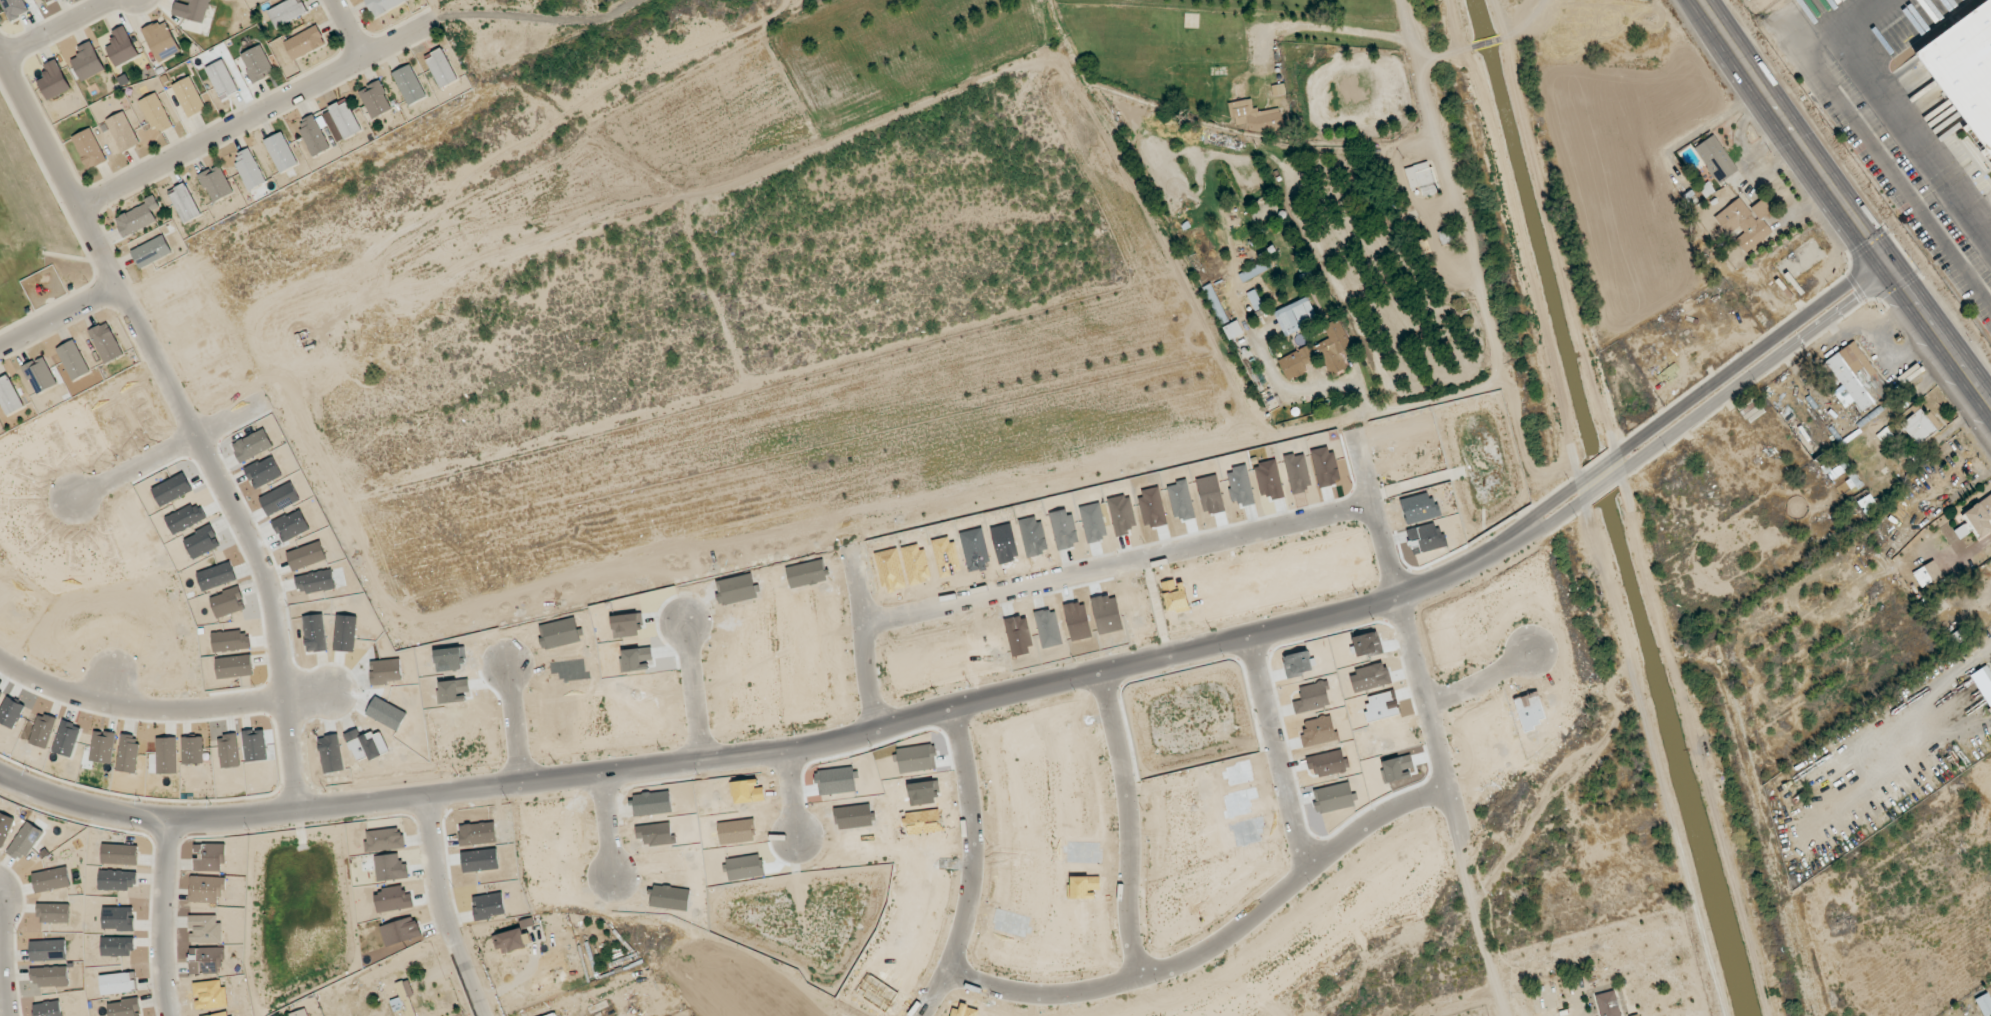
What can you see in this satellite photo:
building: (47, 0)
building: (383, 5)
building: (14, 8)
building: (192, 9)
building: (287, 12)
road: (1524, 22)
road: (345, 28)
road: (58, 30)
building: (161, 41)
building: (304, 43)
road: (1485, 43)
building: (121, 47)
road: (1444, 53)
building: (87, 62)
building: (257, 63)
building: (441, 69)
building: (1965, 69)
building: (221, 79)
building: (53, 81)
building: (409, 84)
building: (189, 97)
building: (375, 100)
building: (155, 113)
road: (253, 114)
building: (1255, 116)
building: (345, 119)
building: (122, 132)
building: (313, 135)
road: (1922, 147)
building: (89, 149)
building: (280, 152)
building: (1716, 159)
building: (249, 169)
building: (1421, 178)
building: (216, 183)
building: (184, 204)
road: (1842, 205)
building: (138, 217)
building: (1746, 223)
building: (1446, 237)
building: (151, 251)
road: (1471, 252)
road: (99, 255)
traffic signals: (1879, 255)
building: (1254, 271)
traffic signals: (1892, 272)
building: (1216, 304)
building: (1295, 315)
road: (58, 317)
building: (1233, 330)
building: (105, 342)
building: (1320, 352)
road: (1751, 352)
building: (73, 360)
road: (1760, 368)
building: (39, 375)
building: (1856, 378)
building: (9, 397)
building: (1920, 425)
road: (174, 454)
road: (1599, 467)
road: (1603, 483)
road: (1549, 503)
road: (1556, 517)
building: (1980, 517)
building: (1962, 531)
road: (1114, 571)
building: (1927, 574)
road: (276, 618)
building: (1958, 637)
road: (1401, 641)
road: (861, 643)
road: (1981, 652)
building: (1983, 683)
road: (1474, 690)
road: (691, 696)
road: (167, 710)
road: (510, 731)
road: (780, 756)
road: (1275, 760)
road: (792, 804)
road: (1130, 831)
road: (607, 832)
road: (973, 866)
road: (443, 908)
road: (161, 916)
road: (1475, 932)
building: (509, 940)
road: (1215, 954)
road: (5, 959)
building: (1608, 1004)
building: (1984, 1004)
building: (554, 1014)

